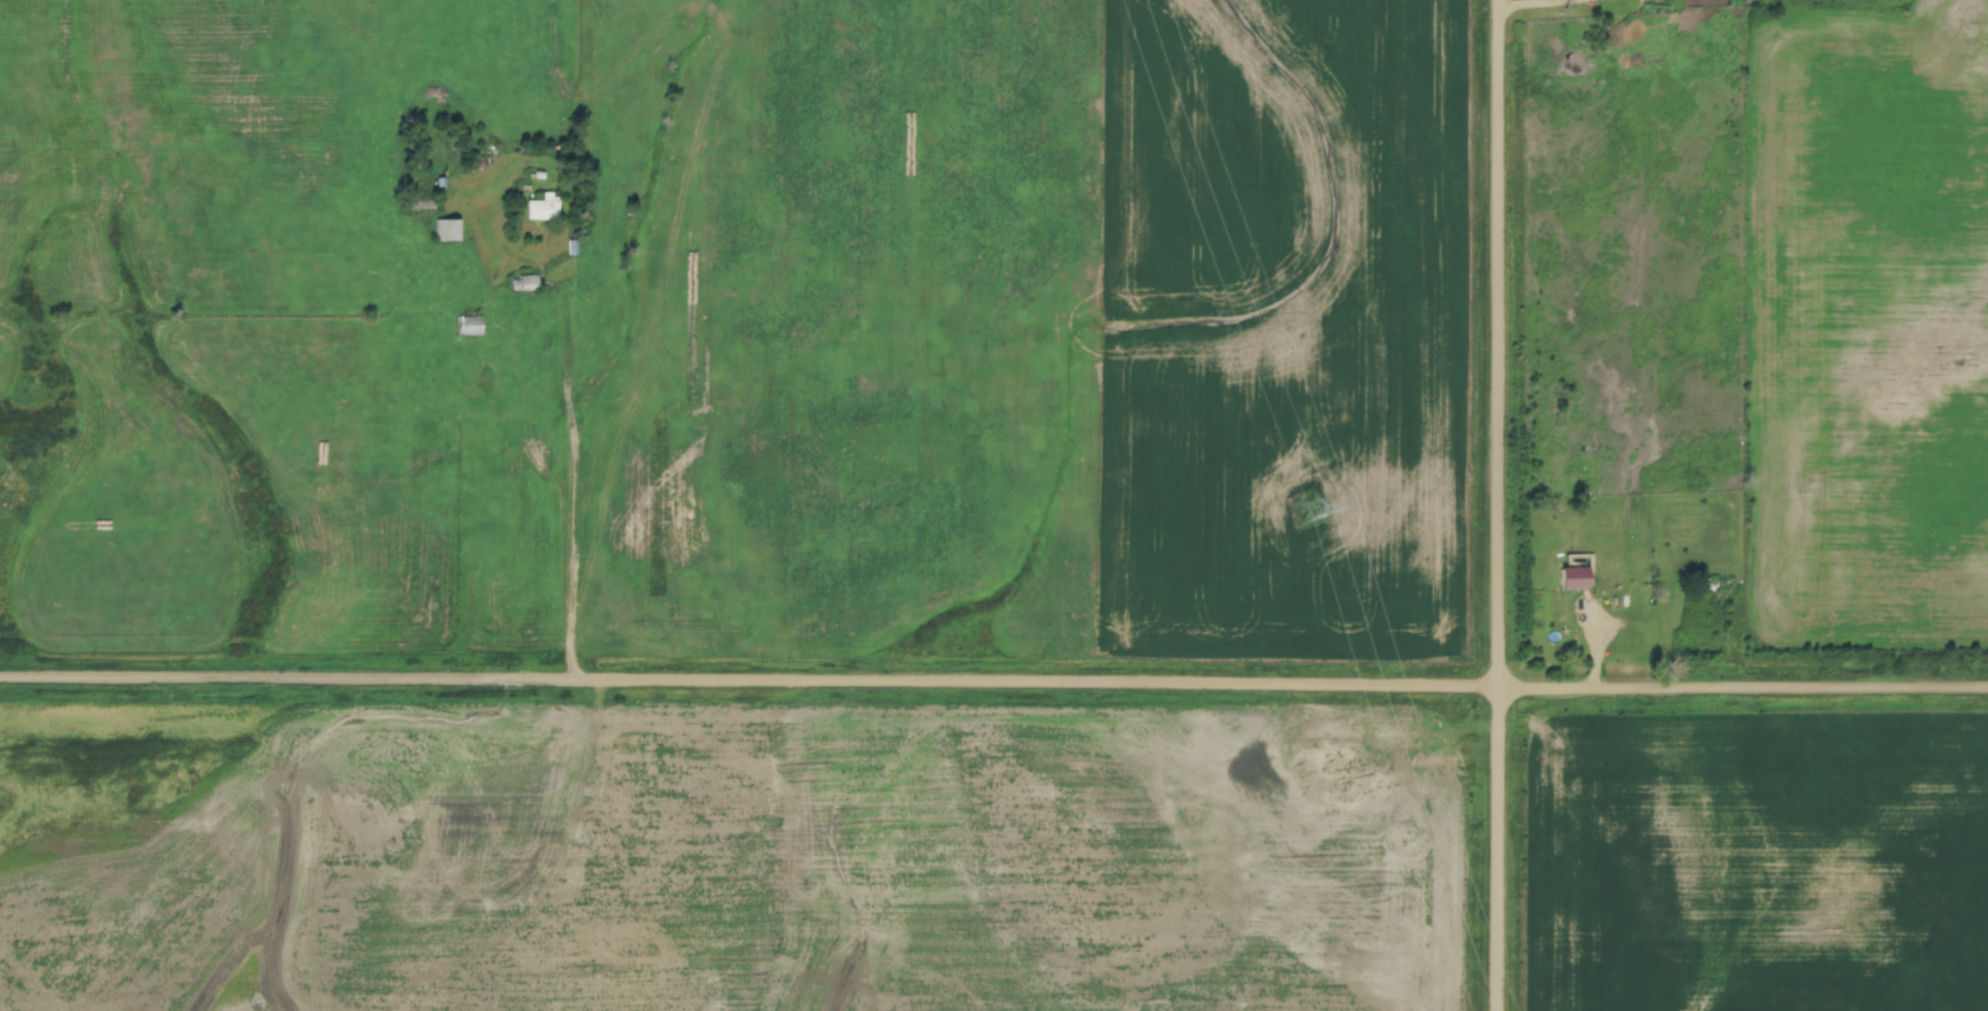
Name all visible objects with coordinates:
road: (1539, 7)
building: (420, 206)
building: (540, 209)
building: (444, 231)
building: (524, 283)
building: (467, 327)
power tower: (1303, 503)
road: (1494, 505)
building: (1570, 578)
road: (993, 686)

